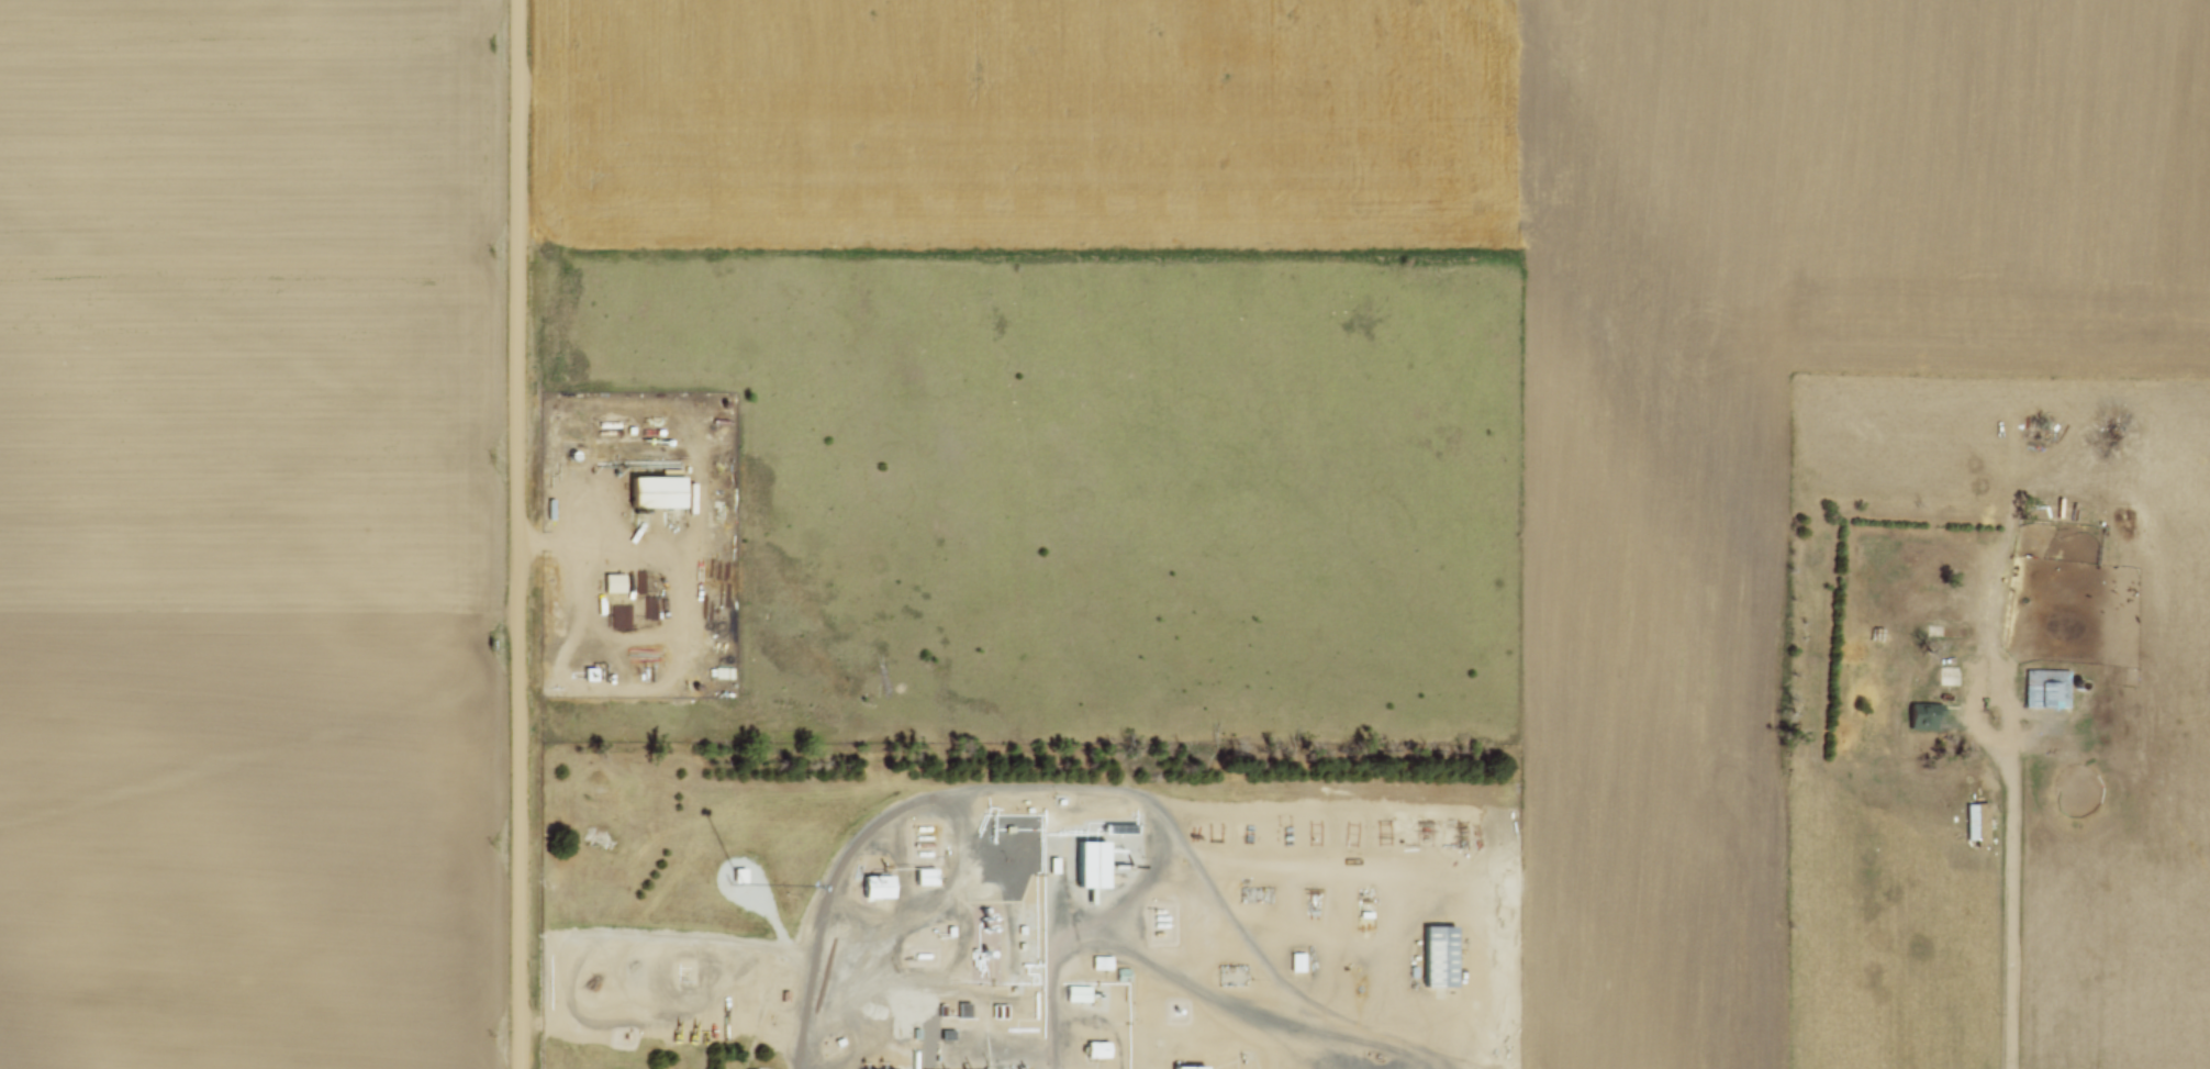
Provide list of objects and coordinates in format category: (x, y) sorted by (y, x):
crop: (1586, 381)
building: (658, 497)
road: (521, 534)
crop: (252, 535)
road: (595, 546)
building: (646, 580)
building: (615, 581)
building: (622, 617)
building: (2046, 689)
building: (2103, 709)
building: (1920, 715)
road: (1073, 787)
building: (1971, 821)
building: (1094, 866)
building: (926, 876)
road: (2011, 881)
building: (880, 887)
building: (1440, 955)
building: (1103, 961)
building: (1297, 962)
building: (1125, 975)
road: (569, 977)
building: (1081, 994)
building: (966, 1009)
building: (1100, 1049)
building: (1186, 1067)

